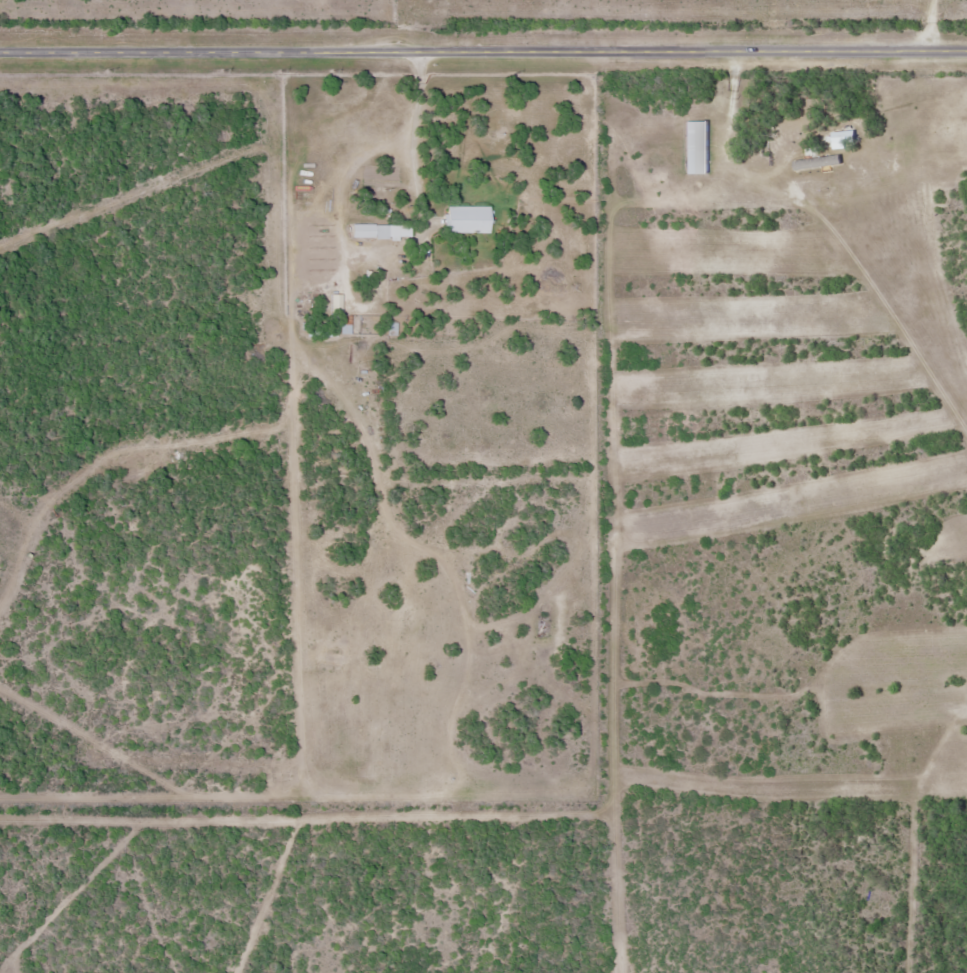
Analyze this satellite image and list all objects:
road: (931, 25)
road: (483, 51)
road: (412, 142)
building: (465, 219)
building: (378, 230)
building: (314, 235)

